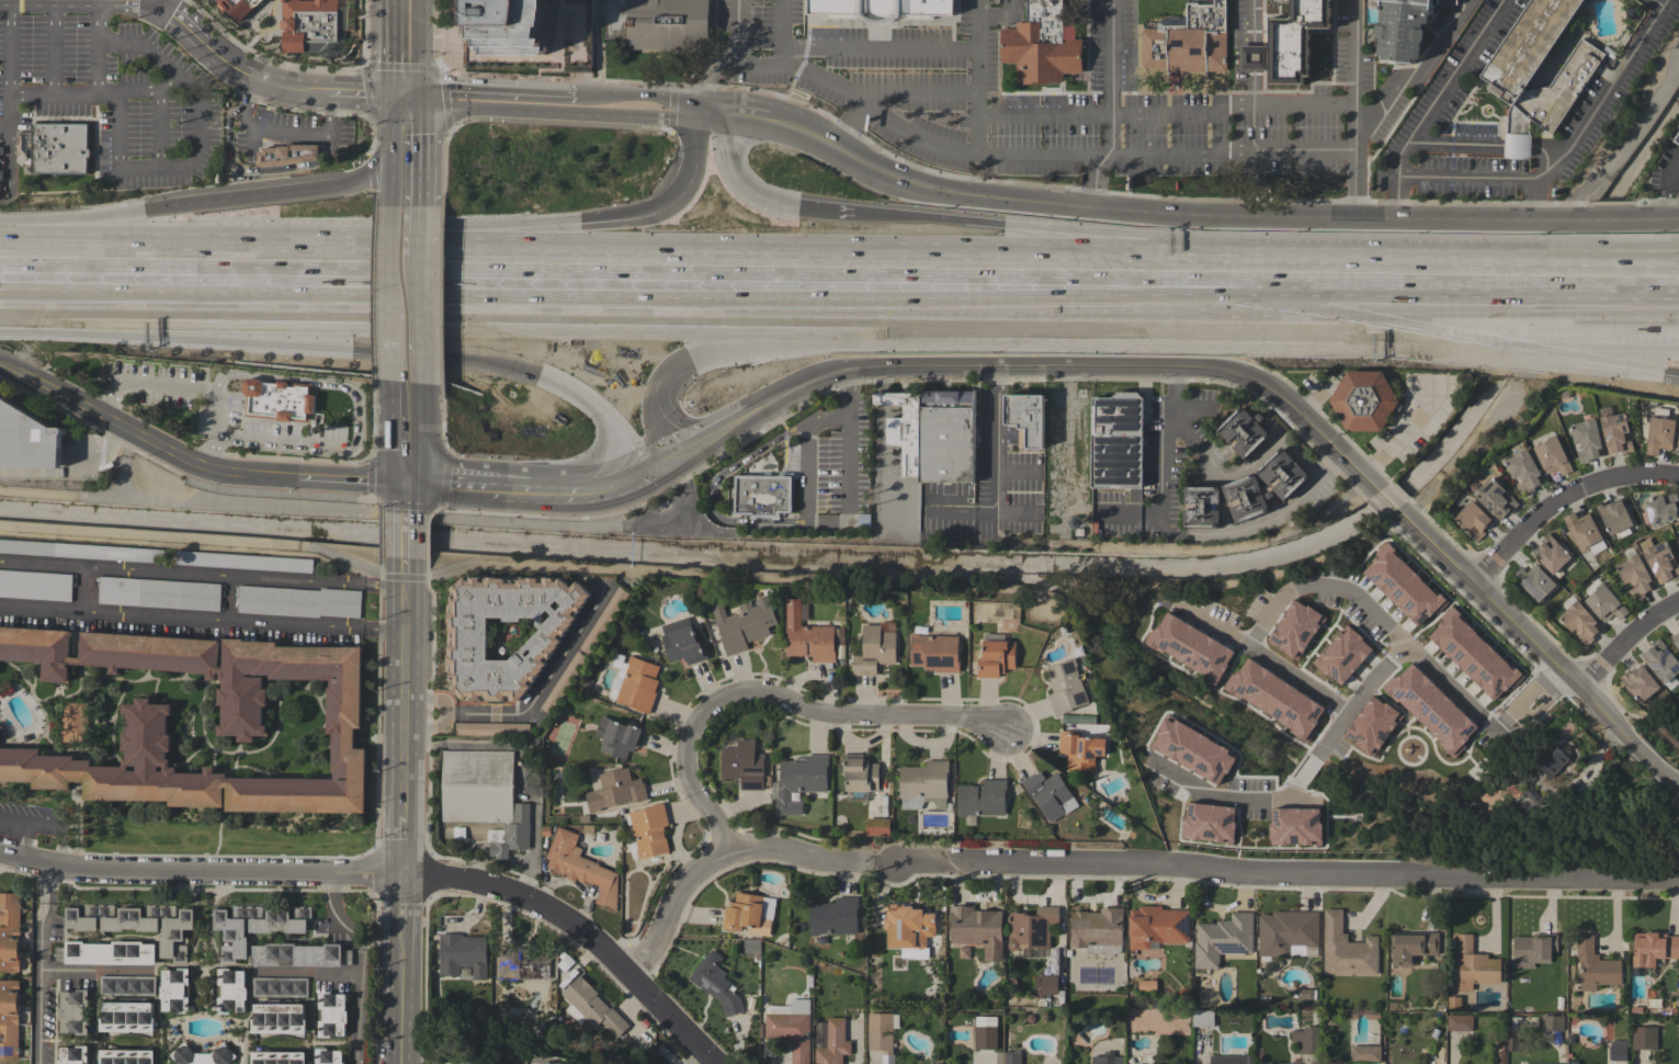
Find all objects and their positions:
road: (4, 0)
road: (104, 1)
building: (1445, 1)
road: (156, 2)
road: (1660, 5)
building: (240, 7)
building: (880, 9)
road: (999, 14)
road: (1250, 20)
road: (179, 21)
building: (659, 23)
building: (518, 25)
building: (314, 26)
building: (1402, 29)
road: (780, 33)
building: (1188, 41)
building: (1294, 41)
building: (1041, 45)
road: (54, 46)
road: (880, 49)
road: (420, 50)
road: (393, 52)
road: (595, 53)
road: (1110, 54)
road: (1354, 56)
building: (1252, 57)
road: (226, 63)
road: (773, 65)
road: (9, 67)
road: (99, 67)
road: (711, 78)
building: (1507, 78)
road: (273, 87)
road: (128, 92)
road: (1376, 92)
road: (309, 93)
road: (890, 93)
road: (248, 95)
road: (359, 100)
traffic signals: (392, 103)
road: (406, 103)
traffic signals: (421, 103)
road: (498, 104)
road: (1430, 104)
road: (643, 106)
road: (1177, 107)
road: (988, 111)
road: (399, 113)
road: (413, 113)
road: (1592, 113)
road: (739, 114)
road: (158, 116)
road: (326, 116)
road: (280, 129)
road: (407, 129)
road: (979, 133)
building: (1677, 138)
road: (1626, 146)
building: (23, 148)
building: (57, 148)
building: (1, 150)
road: (1230, 151)
building: (286, 154)
road: (971, 154)
road: (180, 168)
road: (704, 168)
road: (407, 171)
building: (1, 176)
road: (1466, 177)
building: (0, 188)
road: (300, 200)
road: (1674, 202)
road: (769, 214)
road: (1674, 219)
traffic signals: (676, 220)
road: (1209, 220)
road: (86, 222)
road: (408, 231)
road: (1118, 247)
road: (465, 252)
road: (126, 264)
road: (796, 272)
road: (1621, 272)
road: (1452, 275)
road: (1621, 280)
road: (407, 284)
railway: (839, 292)
road: (542, 310)
road: (1195, 322)
road: (1494, 328)
road: (270, 333)
road: (859, 336)
road: (406, 348)
road: (1493, 349)
traffic signals: (673, 356)
road: (978, 366)
road: (880, 378)
road: (311, 382)
road: (570, 382)
road: (148, 385)
road: (878, 398)
road: (1312, 399)
parking lot: (202, 400)
building: (279, 400)
building: (1363, 400)
road: (1192, 408)
building: (1028, 416)
road: (648, 426)
road: (676, 426)
building: (903, 427)
road: (1183, 430)
road: (214, 431)
road: (1406, 431)
road: (628, 432)
building: (1243, 432)
building: (1615, 433)
road: (406, 434)
building: (1659, 434)
building: (946, 435)
building: (27, 439)
road: (144, 440)
building: (1116, 440)
building: (1587, 440)
road: (996, 441)
road: (281, 443)
building: (1678, 443)
road: (690, 444)
building: (1552, 456)
road: (597, 465)
building: (1524, 471)
road: (72, 473)
building: (1282, 474)
road: (875, 478)
road: (352, 482)
traffic signals: (407, 485)
road: (620, 485)
road: (467, 487)
road: (712, 488)
road: (554, 493)
building: (762, 495)
road: (131, 498)
road: (407, 498)
building: (1246, 498)
building: (1495, 498)
road: (1561, 501)
road: (692, 505)
building: (1201, 506)
building: (1660, 509)
road: (955, 516)
building: (1614, 517)
building: (1473, 520)
road: (829, 523)
building: (1581, 530)
road: (1184, 534)
road: (407, 535)
building: (1678, 540)
building: (81, 551)
building: (1551, 553)
building: (1659, 559)
building: (245, 562)
road: (407, 567)
road: (179, 575)
building: (1635, 576)
road: (1464, 579)
building: (1534, 582)
building: (1402, 584)
building: (35, 585)
road: (1318, 585)
road: (383, 587)
building: (159, 593)
building: (298, 601)
building: (1604, 603)
building: (604, 621)
road: (179, 622)
building: (1580, 622)
building: (744, 623)
building: (1678, 623)
road: (1213, 625)
building: (1294, 626)
road: (382, 632)
building: (467, 634)
building: (807, 636)
building: (1676, 639)
building: (682, 642)
road: (1623, 643)
building: (1190, 647)
building: (874, 650)
building: (934, 653)
building: (1341, 654)
building: (996, 658)
building: (1660, 661)
building: (1476, 678)
road: (546, 682)
building: (1640, 682)
building: (563, 683)
building: (637, 684)
building: (1067, 686)
road: (406, 693)
road: (779, 697)
building: (1274, 697)
building: (1525, 697)
building: (1430, 709)
road: (429, 714)
building: (241, 720)
building: (73, 722)
building: (1187, 722)
building: (1371, 725)
building: (492, 729)
building: (619, 736)
building: (1080, 749)
building: (1191, 750)
building: (1365, 752)
building: (1550, 759)
building: (744, 765)
building: (859, 773)
building: (801, 781)
building: (1464, 781)
building: (922, 782)
building: (477, 786)
building: (615, 790)
building: (1179, 792)
building: (1050, 794)
road: (1261, 795)
building: (1533, 795)
building: (982, 797)
building: (1336, 806)
building: (1471, 811)
building: (877, 826)
building: (1294, 826)
road: (29, 827)
building: (1193, 828)
building: (649, 830)
building: (514, 833)
road: (60, 834)
road: (405, 844)
road: (903, 864)
building: (581, 867)
road: (201, 872)
road: (1461, 874)
road: (404, 902)
building: (742, 912)
road: (336, 915)
building: (833, 916)
building: (136, 924)
building: (254, 926)
building: (908, 926)
building: (1031, 927)
building: (1157, 927)
building: (977, 929)
building: (1098, 930)
road: (580, 931)
building: (10, 932)
building: (1287, 932)
building: (1222, 939)
building: (1411, 946)
building: (1346, 948)
building: (1654, 948)
building: (1533, 949)
building: (105, 952)
building: (299, 954)
building: (462, 954)
building: (565, 962)
building: (522, 964)
building: (1474, 964)
road: (35, 965)
building: (1595, 965)
road: (90, 971)
road: (313, 974)
building: (126, 985)
building: (715, 985)
building: (1045, 985)
building: (1147, 985)
building: (279, 987)
building: (174, 991)
building: (230, 991)
road: (402, 996)
building: (1454, 1003)
road: (362, 1006)
building: (592, 1006)
building: (73, 1011)
building: (126, 1015)
building: (331, 1015)
building: (277, 1017)
building: (9, 1018)
building: (1202, 1018)
building: (1459, 1022)
building: (1552, 1022)
building: (792, 1029)
building: (881, 1031)
building: (1513, 1033)
building: (985, 1038)
building: (1644, 1038)
building: (1306, 1040)
building: (833, 1042)
building: (1618, 1050)
building: (1365, 1053)
building: (73, 1055)
building: (202, 1055)
road: (453, 1055)
building: (125, 1056)
building: (327, 1056)
building: (277, 1057)
building: (1012, 1057)
building: (1499, 1057)
building: (1108, 1060)
building: (1229, 1060)
building: (951, 1063)
building: (1334, 1063)
building: (1535, 1063)

